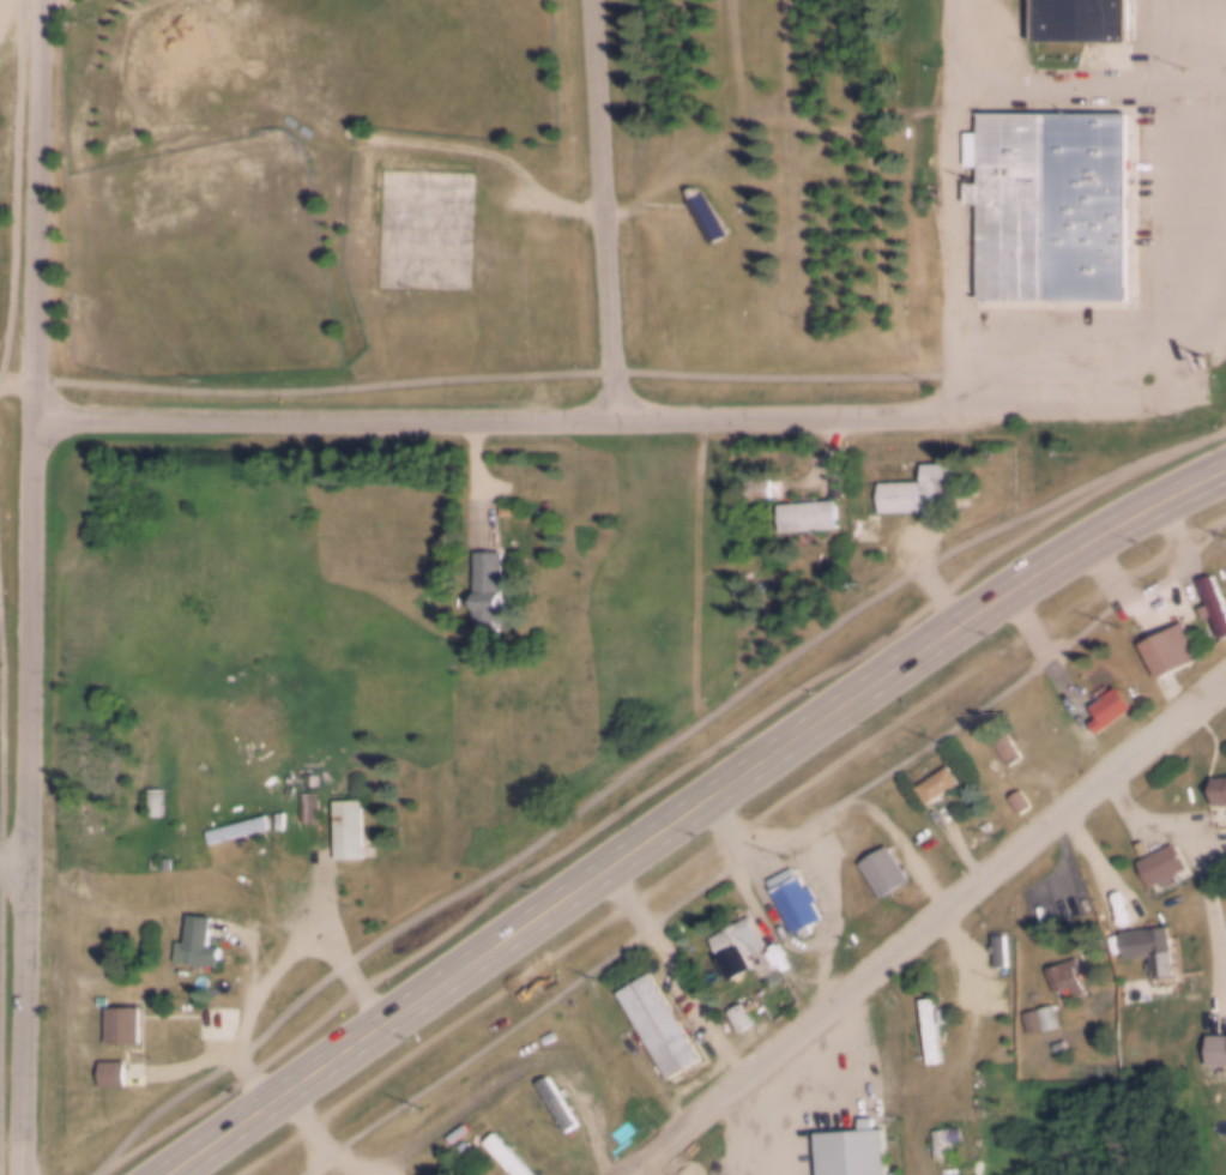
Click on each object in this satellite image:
building: (1076, 20)
road: (1220, 56)
road: (479, 153)
road: (16, 192)
park: (495, 200)
building: (1047, 206)
road: (603, 209)
building: (706, 215)
park: (425, 225)
park: (210, 258)
road: (493, 376)
road: (18, 387)
road: (693, 417)
building: (865, 462)
building: (913, 486)
building: (756, 487)
building: (805, 512)
road: (699, 568)
building: (487, 580)
road: (35, 586)
road: (1162, 601)
building: (1214, 602)
building: (1168, 646)
building: (1107, 705)
building: (1007, 745)
building: (1070, 745)
road: (636, 766)
building: (312, 776)
building: (935, 781)
building: (1219, 787)
building: (1020, 797)
building: (155, 799)
road: (847, 802)
building: (310, 803)
road: (687, 812)
building: (237, 826)
building: (349, 826)
road: (1, 828)
road: (1097, 860)
building: (1160, 860)
road: (16, 861)
building: (882, 867)
building: (793, 894)
road: (924, 923)
building: (197, 939)
building: (737, 942)
building: (1148, 944)
building: (992, 953)
road: (276, 972)
building: (1064, 972)
road: (671, 975)
building: (751, 1002)
building: (741, 1013)
building: (1049, 1014)
building: (1032, 1018)
building: (659, 1019)
building: (121, 1022)
building: (931, 1024)
building: (1215, 1047)
building: (109, 1069)
building: (557, 1098)
building: (976, 1099)
road: (750, 1126)
road: (309, 1128)
building: (943, 1140)
building: (850, 1149)
building: (507, 1153)

